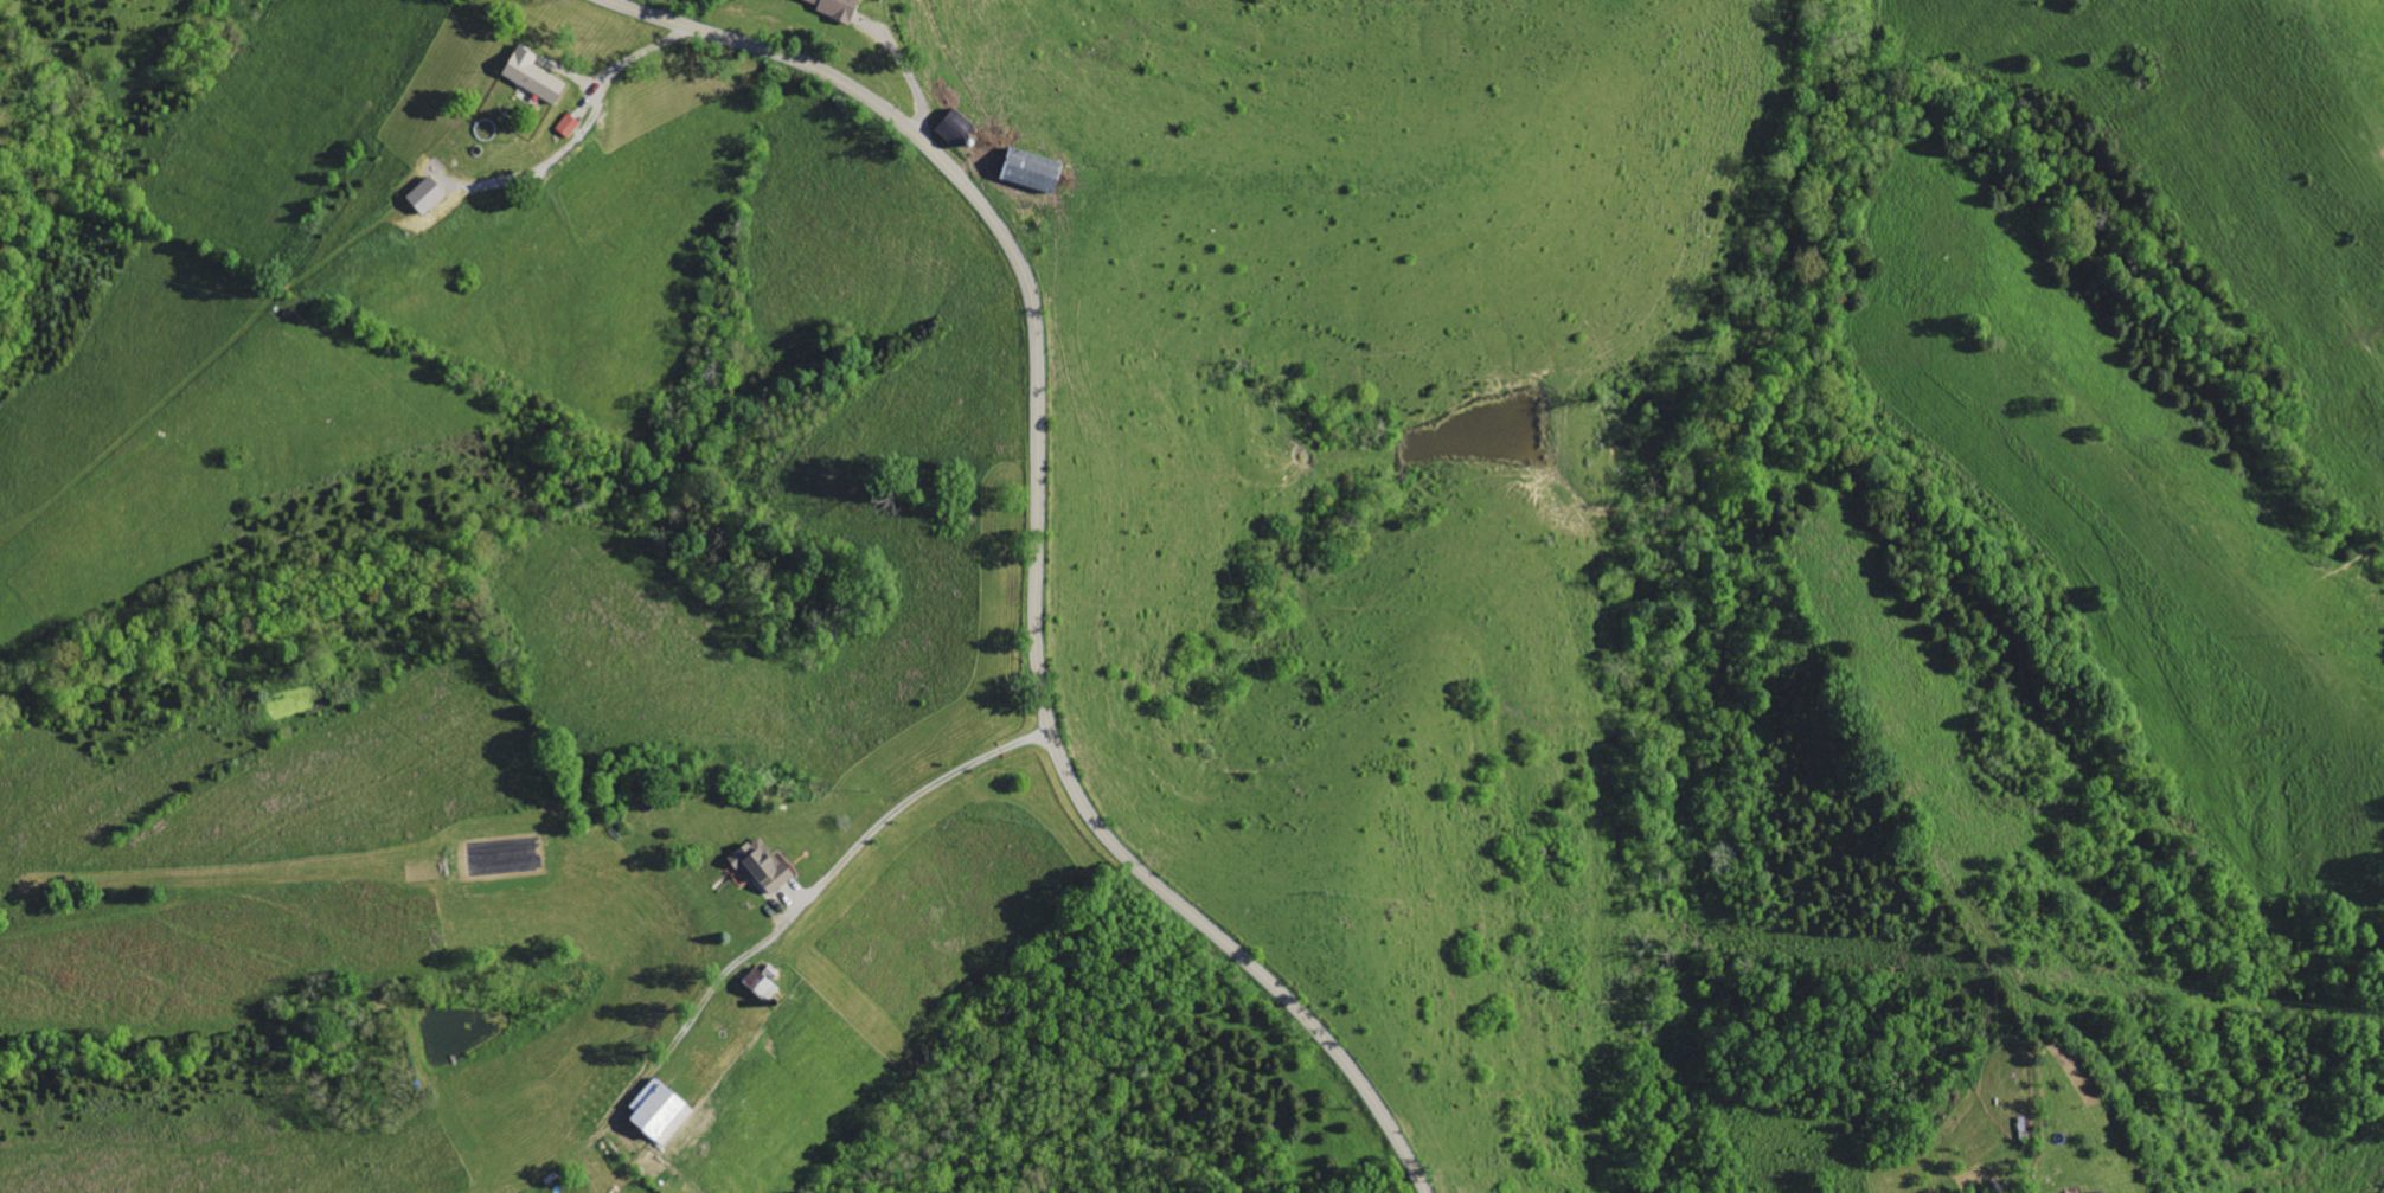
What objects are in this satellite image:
building: (835, 7)
road: (639, 57)
building: (534, 76)
road: (910, 82)
building: (569, 124)
building: (956, 128)
building: (1034, 172)
road: (1037, 545)
road: (891, 828)
building: (764, 862)
building: (763, 983)
building: (661, 1110)

